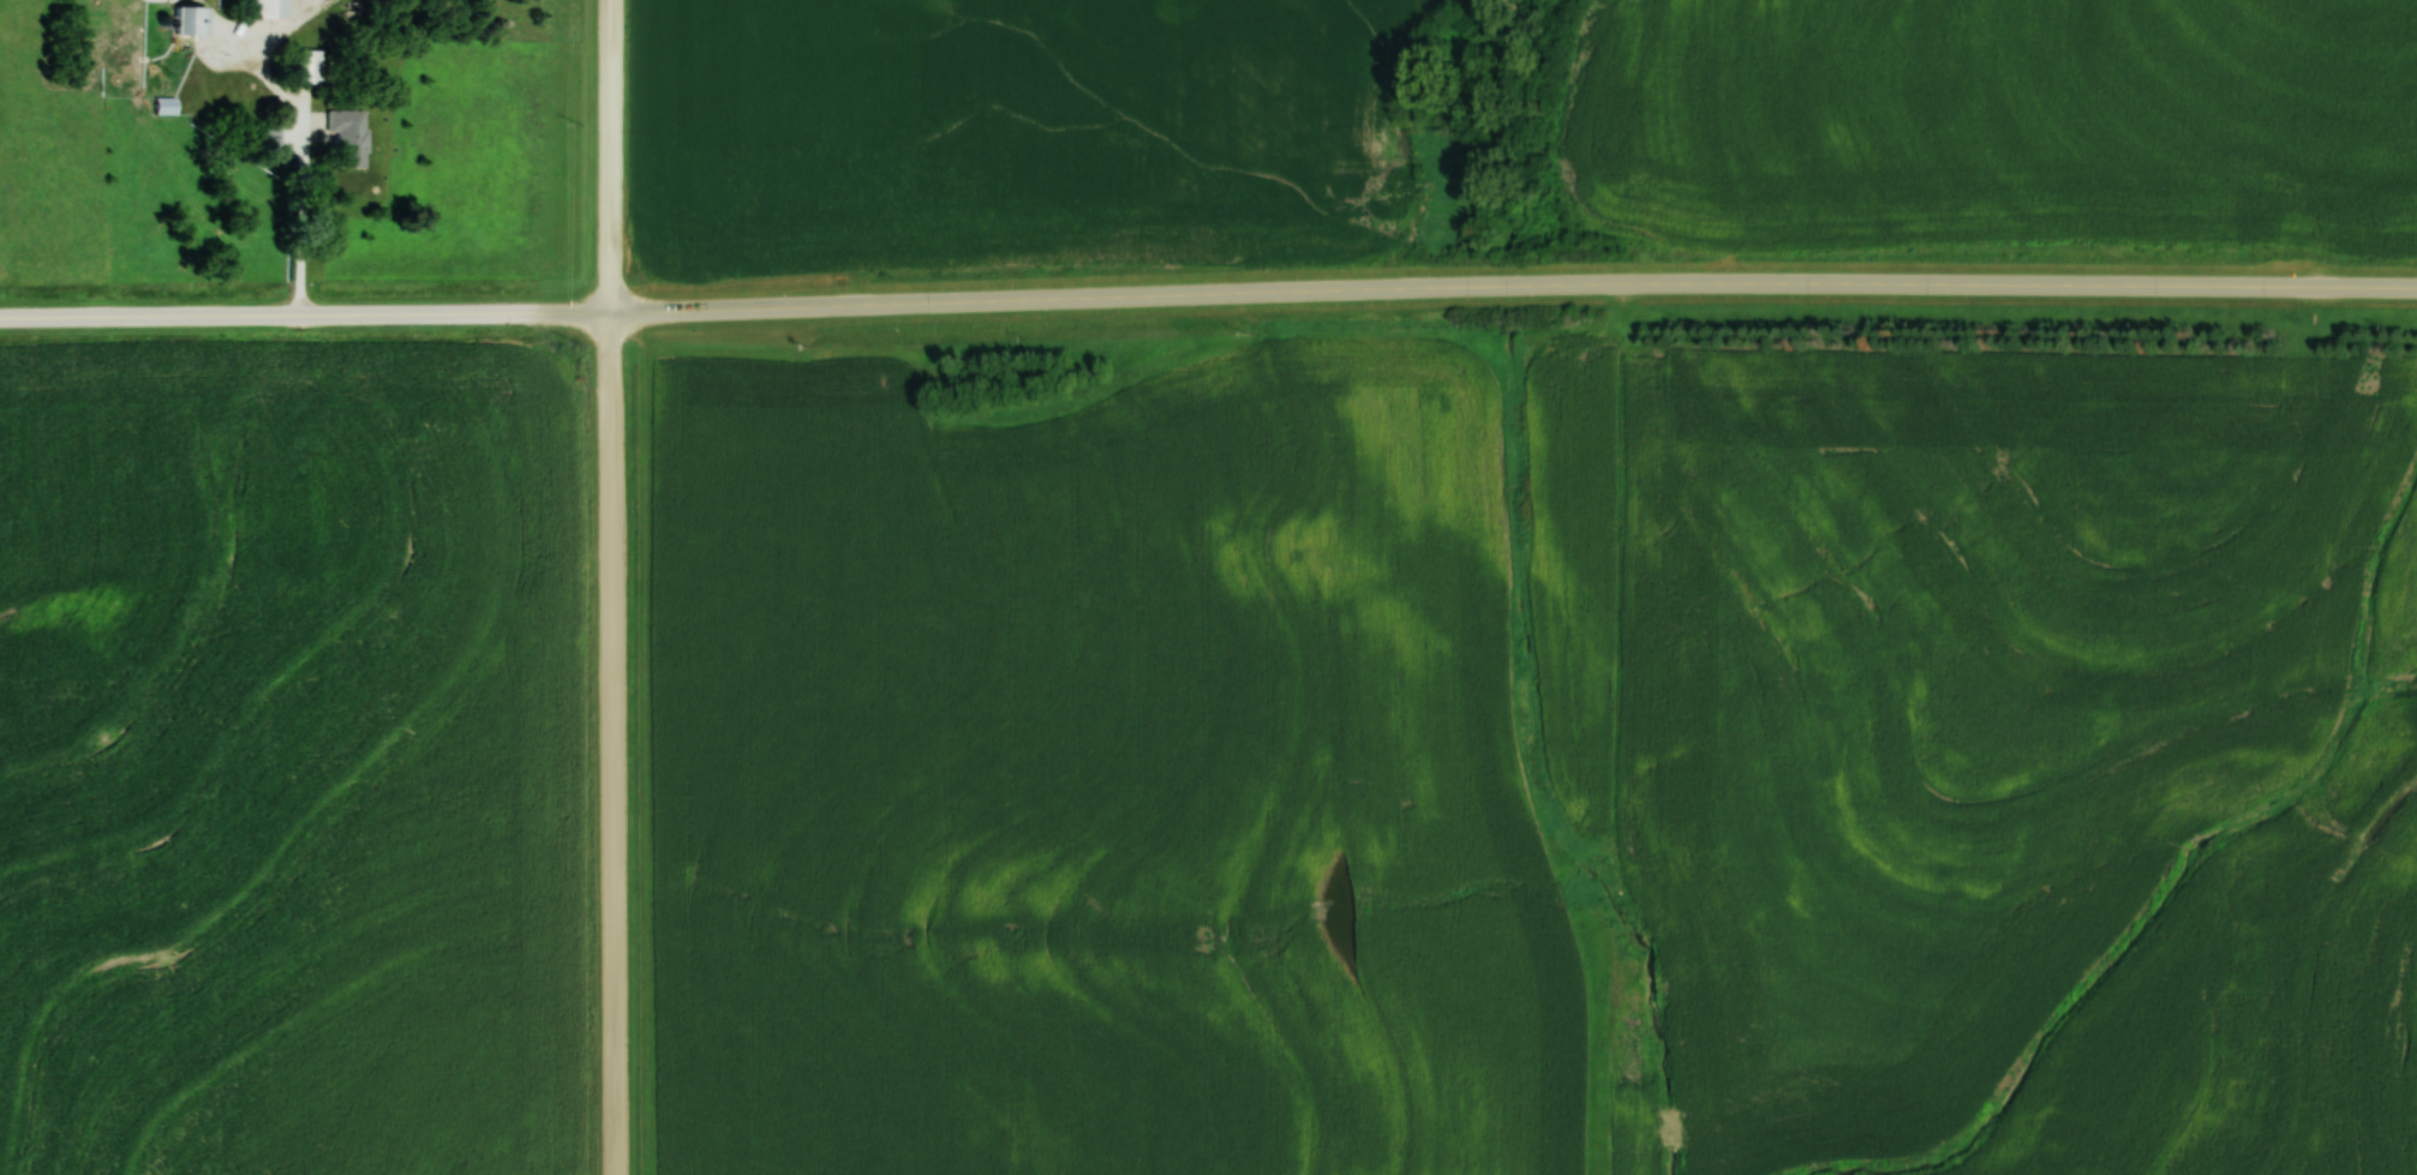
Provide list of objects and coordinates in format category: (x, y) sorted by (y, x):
building: (263, 8)
building: (185, 19)
building: (300, 66)
building: (160, 106)
building: (342, 136)
building: (268, 143)
road: (1208, 293)
road: (610, 587)

